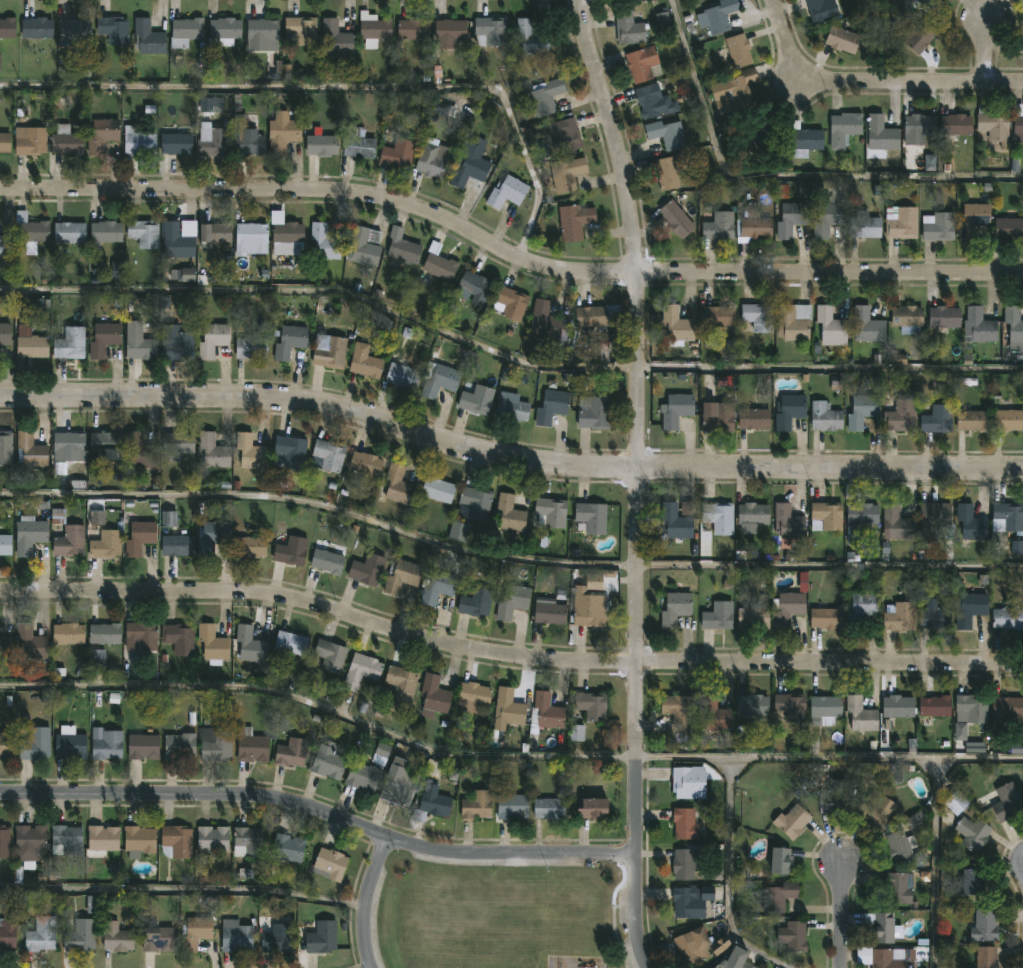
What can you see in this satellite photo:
building: (925, 2)
building: (822, 10)
building: (719, 16)
building: (7, 27)
building: (35, 27)
building: (628, 27)
building: (72, 28)
building: (112, 28)
building: (374, 28)
building: (412, 28)
building: (300, 29)
building: (223, 30)
building: (489, 30)
building: (185, 31)
building: (449, 31)
building: (262, 33)
building: (147, 36)
building: (336, 37)
building: (920, 37)
building: (842, 38)
building: (528, 40)
road: (885, 40)
road: (986, 48)
building: (736, 51)
building: (642, 62)
road: (872, 81)
building: (739, 92)
road: (337, 94)
building: (546, 96)
building: (648, 101)
building: (993, 123)
building: (956, 124)
building: (764, 127)
building: (1018, 127)
building: (843, 128)
building: (918, 128)
building: (881, 133)
building: (101, 134)
building: (666, 134)
building: (283, 135)
building: (566, 136)
building: (246, 137)
building: (138, 138)
building: (804, 139)
building: (30, 140)
building: (65, 140)
building: (212, 141)
building: (4, 142)
building: (357, 142)
building: (174, 144)
building: (321, 144)
building: (397, 152)
building: (431, 162)
building: (469, 165)
building: (668, 171)
building: (566, 173)
road: (782, 183)
building: (506, 191)
building: (826, 217)
building: (676, 218)
building: (791, 219)
building: (973, 219)
building: (573, 221)
building: (754, 223)
building: (903, 224)
building: (718, 225)
building: (864, 225)
building: (938, 227)
building: (1008, 228)
building: (30, 231)
building: (214, 231)
building: (68, 232)
building: (143, 232)
building: (285, 232)
building: (104, 233)
building: (250, 238)
building: (177, 240)
building: (324, 240)
building: (6, 244)
building: (364, 246)
building: (402, 251)
road: (507, 254)
building: (438, 262)
building: (473, 287)
building: (510, 302)
building: (591, 316)
building: (757, 316)
building: (944, 316)
building: (717, 317)
building: (908, 318)
building: (545, 319)
building: (794, 321)
building: (1013, 322)
building: (831, 325)
building: (867, 325)
building: (979, 325)
building: (676, 326)
building: (4, 333)
building: (103, 338)
building: (212, 339)
building: (288, 341)
building: (30, 342)
building: (69, 342)
building: (178, 345)
building: (141, 347)
building: (250, 347)
building: (332, 351)
building: (597, 353)
road: (506, 355)
building: (365, 364)
building: (402, 375)
building: (440, 381)
building: (476, 399)
building: (551, 407)
building: (677, 409)
building: (789, 410)
building: (862, 410)
building: (511, 411)
building: (594, 412)
building: (717, 416)
building: (899, 416)
building: (824, 417)
building: (754, 418)
building: (936, 419)
building: (972, 419)
building: (1007, 419)
road: (638, 422)
building: (67, 442)
building: (177, 444)
building: (6, 447)
building: (30, 450)
building: (139, 450)
building: (108, 451)
building: (211, 451)
building: (250, 451)
building: (288, 452)
building: (327, 456)
building: (365, 463)
road: (507, 464)
building: (397, 486)
building: (437, 489)
building: (477, 503)
building: (6, 505)
building: (551, 511)
building: (510, 514)
building: (862, 514)
building: (935, 515)
building: (751, 516)
building: (826, 516)
building: (591, 517)
building: (718, 517)
building: (1007, 517)
building: (788, 521)
building: (971, 522)
building: (675, 523)
building: (898, 523)
building: (458, 532)
building: (29, 535)
building: (139, 537)
building: (211, 537)
building: (69, 541)
building: (5, 544)
building: (105, 544)
building: (176, 545)
building: (250, 547)
building: (289, 551)
road: (507, 560)
building: (326, 561)
building: (367, 569)
building: (400, 576)
building: (437, 587)
building: (512, 601)
building: (475, 602)
building: (675, 609)
building: (788, 609)
building: (860, 609)
building: (969, 609)
building: (588, 611)
building: (549, 613)
building: (719, 615)
building: (934, 615)
building: (1008, 616)
building: (900, 617)
building: (753, 618)
building: (826, 618)
building: (67, 633)
building: (104, 633)
building: (140, 635)
building: (178, 638)
building: (30, 641)
building: (290, 643)
building: (212, 644)
building: (250, 645)
building: (5, 648)
building: (330, 655)
road: (506, 657)
building: (97, 659)
building: (361, 669)
building: (401, 682)
building: (434, 694)
building: (472, 698)
building: (752, 704)
building: (591, 705)
building: (934, 705)
building: (790, 706)
building: (509, 707)
building: (897, 707)
building: (971, 707)
building: (1007, 707)
building: (677, 709)
building: (823, 710)
building: (547, 711)
building: (714, 713)
building: (860, 713)
building: (214, 742)
building: (6, 743)
building: (35, 743)
building: (69, 743)
building: (107, 744)
building: (179, 744)
building: (251, 745)
building: (142, 746)
building: (290, 751)
road: (506, 758)
building: (326, 760)
building: (368, 768)
building: (688, 781)
building: (397, 782)
building: (833, 797)
building: (956, 801)
building: (1007, 802)
building: (433, 803)
building: (477, 805)
building: (512, 806)
building: (590, 806)
building: (874, 806)
building: (549, 808)
road: (318, 815)
building: (791, 820)
building: (685, 823)
building: (972, 832)
building: (102, 837)
building: (65, 839)
building: (211, 839)
building: (4, 840)
building: (138, 840)
building: (177, 840)
building: (248, 841)
building: (29, 843)
building: (900, 846)
building: (288, 847)
building: (779, 859)
building: (685, 862)
building: (329, 863)
road: (937, 863)
road: (730, 876)
building: (973, 881)
building: (899, 886)
road: (182, 895)
building: (779, 895)
building: (691, 900)
road: (366, 901)
road: (633, 910)
road: (843, 915)
park: (499, 916)
building: (880, 925)
building: (984, 925)
building: (8, 930)
building: (195, 932)
building: (40, 934)
building: (79, 935)
building: (234, 935)
building: (793, 935)
building: (117, 937)
building: (156, 937)
building: (275, 937)
building: (321, 937)
building: (691, 944)
building: (890, 957)
building: (987, 957)
building: (719, 965)

